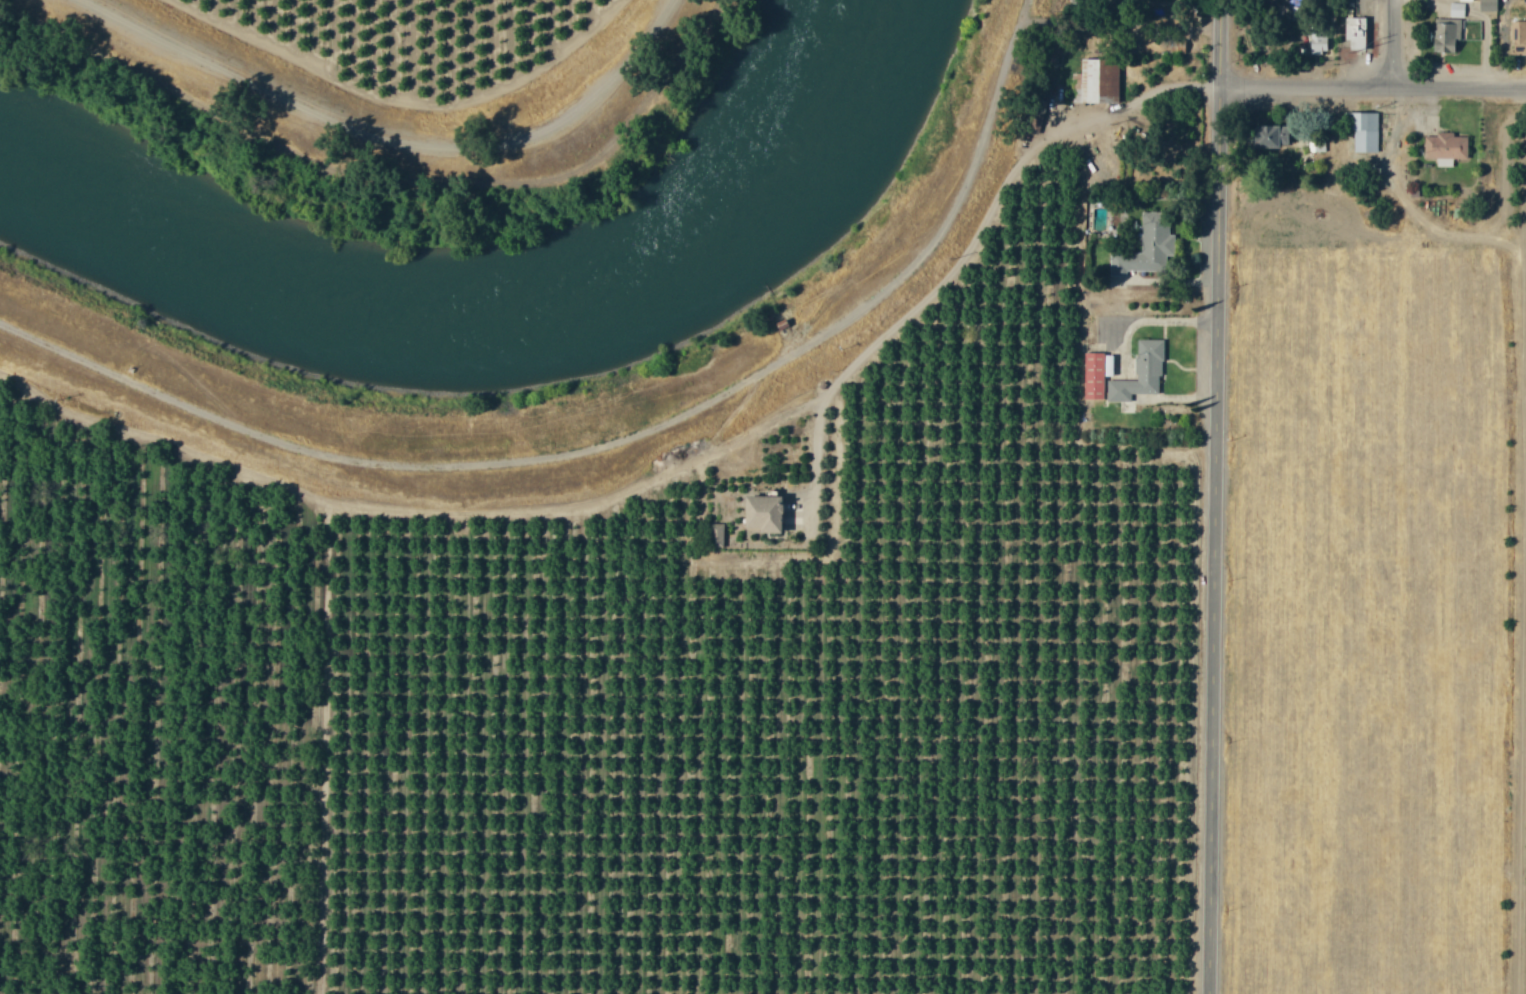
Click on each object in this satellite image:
building: (1463, 0)
building: (1487, 5)
building: (1456, 9)
building: (1354, 32)
building: (1518, 37)
building: (1317, 42)
road: (1400, 44)
building: (1095, 81)
road: (1376, 87)
building: (1362, 130)
building: (1268, 135)
road: (393, 139)
building: (1444, 148)
building: (1144, 248)
river: (485, 323)
building: (1139, 373)
building: (1095, 374)
road: (658, 450)
road: (1222, 497)
building: (761, 513)
building: (715, 535)

